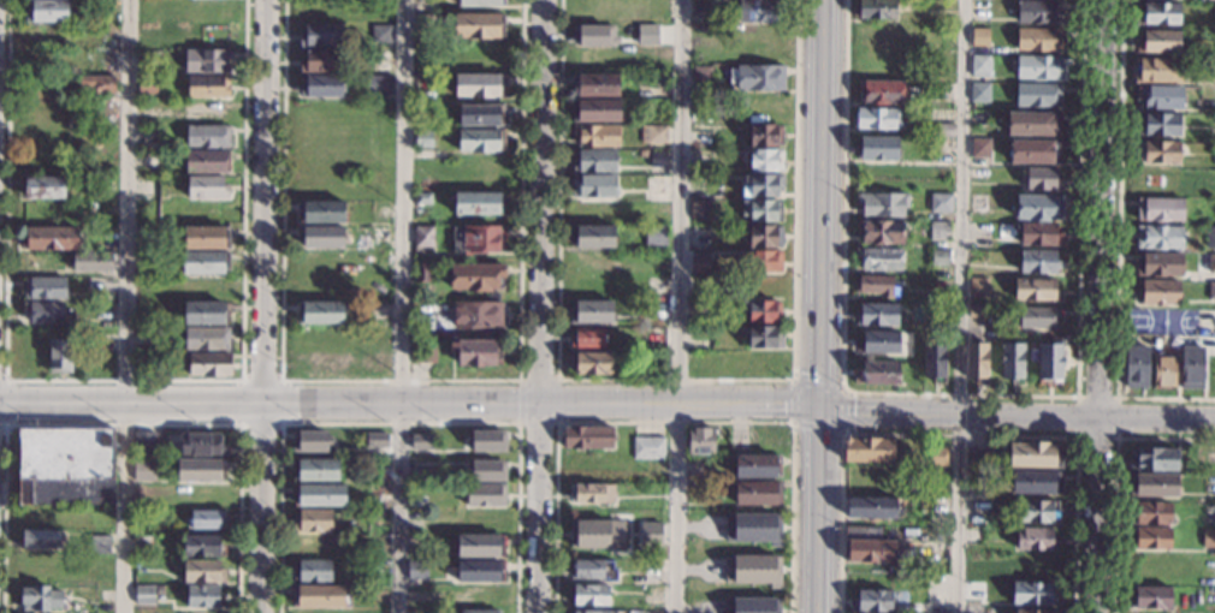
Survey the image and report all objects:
building: (481, 2)
building: (701, 8)
building: (875, 8)
building: (47, 11)
building: (759, 11)
building: (1039, 12)
building: (1213, 13)
building: (1157, 14)
building: (478, 25)
building: (423, 28)
building: (380, 34)
building: (657, 34)
building: (604, 35)
building: (320, 36)
building: (979, 37)
building: (1038, 40)
building: (1157, 42)
road: (541, 44)
building: (149, 60)
road: (268, 60)
building: (206, 61)
building: (320, 61)
building: (383, 61)
building: (979, 66)
building: (1038, 67)
building: (1155, 71)
building: (701, 76)
building: (755, 77)
building: (95, 84)
building: (147, 84)
building: (377, 85)
building: (479, 85)
building: (595, 85)
building: (208, 87)
building: (320, 87)
building: (881, 93)
building: (979, 93)
building: (1037, 95)
building: (1160, 97)
building: (595, 111)
building: (657, 112)
building: (480, 114)
building: (876, 119)
building: (1033, 123)
building: (1158, 125)
building: (942, 130)
building: (652, 133)
building: (760, 135)
building: (595, 136)
building: (208, 137)
building: (423, 138)
building: (480, 141)
building: (980, 148)
building: (876, 149)
building: (1033, 151)
building: (1158, 151)
road: (820, 153)
building: (658, 157)
building: (207, 161)
building: (593, 161)
building: (763, 161)
building: (979, 174)
building: (1041, 179)
building: (761, 185)
building: (593, 186)
building: (207, 188)
building: (656, 188)
building: (42, 189)
building: (421, 198)
building: (478, 203)
building: (941, 203)
building: (882, 204)
building: (978, 204)
building: (1039, 208)
building: (700, 209)
building: (1160, 209)
building: (760, 210)
building: (321, 212)
building: (940, 231)
building: (881, 232)
building: (1039, 234)
building: (379, 236)
building: (592, 236)
building: (654, 236)
building: (206, 237)
building: (423, 237)
building: (765, 237)
building: (1158, 237)
building: (52, 238)
building: (320, 238)
building: (1210, 238)
building: (478, 239)
road: (1119, 246)
building: (940, 258)
building: (878, 260)
building: (763, 261)
building: (91, 262)
building: (205, 262)
building: (1038, 262)
building: (1211, 263)
building: (1158, 264)
building: (698, 266)
building: (421, 273)
building: (476, 278)
building: (876, 286)
building: (43, 287)
building: (978, 287)
building: (206, 288)
building: (1035, 290)
building: (1211, 291)
building: (1157, 292)
building: (942, 298)
road: (124, 305)
road: (676, 305)
road: (402, 306)
road: (961, 306)
road: (1101, 306)
building: (761, 311)
building: (978, 311)
building: (45, 313)
building: (206, 313)
building: (591, 313)
building: (320, 314)
building: (876, 314)
building: (476, 315)
building: (940, 317)
building: (1038, 317)
building: (760, 337)
building: (588, 338)
building: (206, 339)
building: (879, 343)
road: (539, 350)
building: (478, 352)
building: (425, 353)
road: (819, 355)
building: (59, 356)
building: (1012, 361)
building: (935, 362)
building: (976, 362)
building: (589, 363)
building: (1049, 363)
building: (209, 365)
road: (261, 365)
building: (1136, 367)
building: (1191, 368)
building: (876, 373)
building: (1163, 373)
road: (794, 377)
road: (674, 379)
road: (123, 380)
road: (398, 380)
road: (965, 393)
road: (557, 400)
road: (6, 401)
road: (518, 401)
road: (409, 404)
traffic signals: (819, 404)
road: (1017, 415)
road: (676, 421)
road: (280, 423)
road: (399, 423)
road: (123, 424)
road: (844, 428)
road: (958, 432)
road: (1116, 435)
building: (378, 436)
building: (586, 438)
building: (310, 439)
building: (487, 439)
building: (143, 440)
building: (422, 440)
building: (700, 441)
building: (201, 445)
building: (647, 447)
building: (871, 448)
building: (936, 456)
building: (1035, 456)
building: (978, 459)
building: (1156, 459)
road: (818, 464)
building: (65, 466)
building: (758, 466)
building: (147, 468)
building: (488, 469)
building: (201, 470)
building: (315, 470)
road: (1116, 475)
building: (1030, 482)
building: (1151, 484)
building: (591, 494)
building: (758, 494)
building: (319, 495)
building: (486, 495)
building: (870, 508)
building: (1037, 511)
building: (1151, 514)
building: (207, 519)
building: (313, 520)
building: (754, 525)
building: (652, 531)
building: (598, 532)
building: (1037, 538)
building: (1150, 538)
building: (1208, 538)
building: (41, 540)
building: (100, 544)
building: (143, 544)
building: (202, 546)
building: (479, 546)
building: (866, 546)
building: (753, 567)
road: (817, 569)
building: (593, 570)
building: (312, 571)
building: (416, 571)
building: (480, 571)
building: (202, 572)
building: (1033, 594)
building: (144, 595)
building: (587, 595)
building: (202, 596)
building: (322, 596)
building: (1151, 597)
building: (40, 599)
building: (873, 601)
building: (752, 605)
building: (480, 612)
building: (583, 612)
building: (1033, 612)

